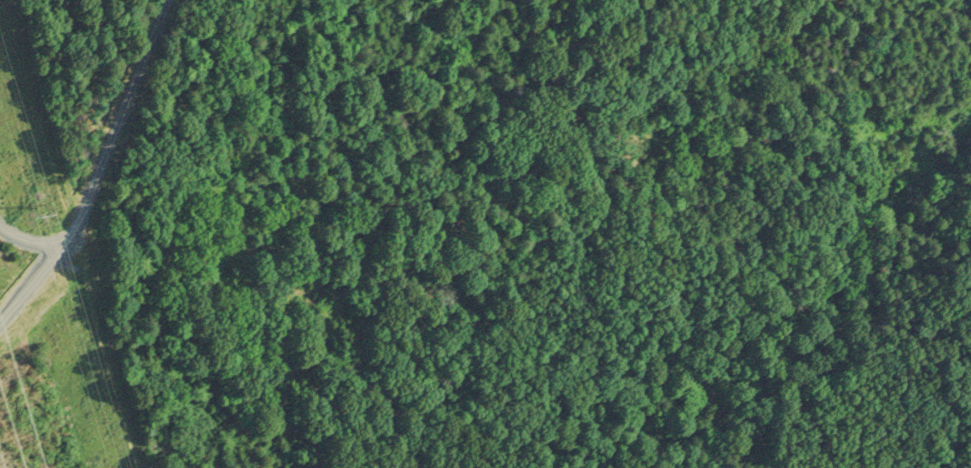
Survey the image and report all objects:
power tower: (52, 204)
road: (388, 208)

